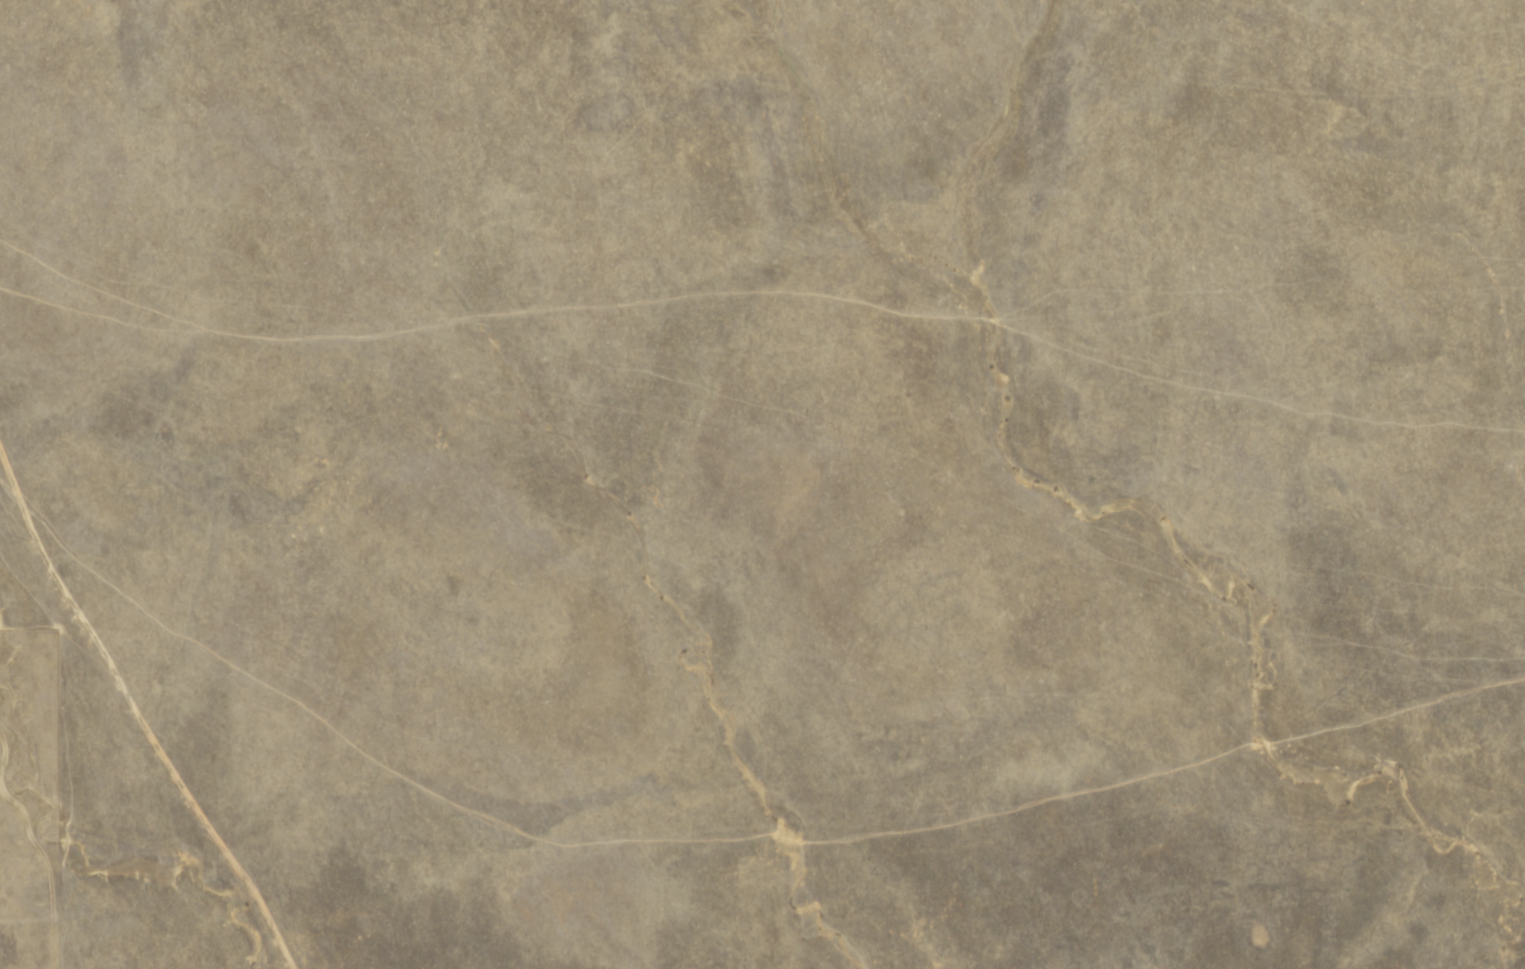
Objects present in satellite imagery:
road: (4, 947)

